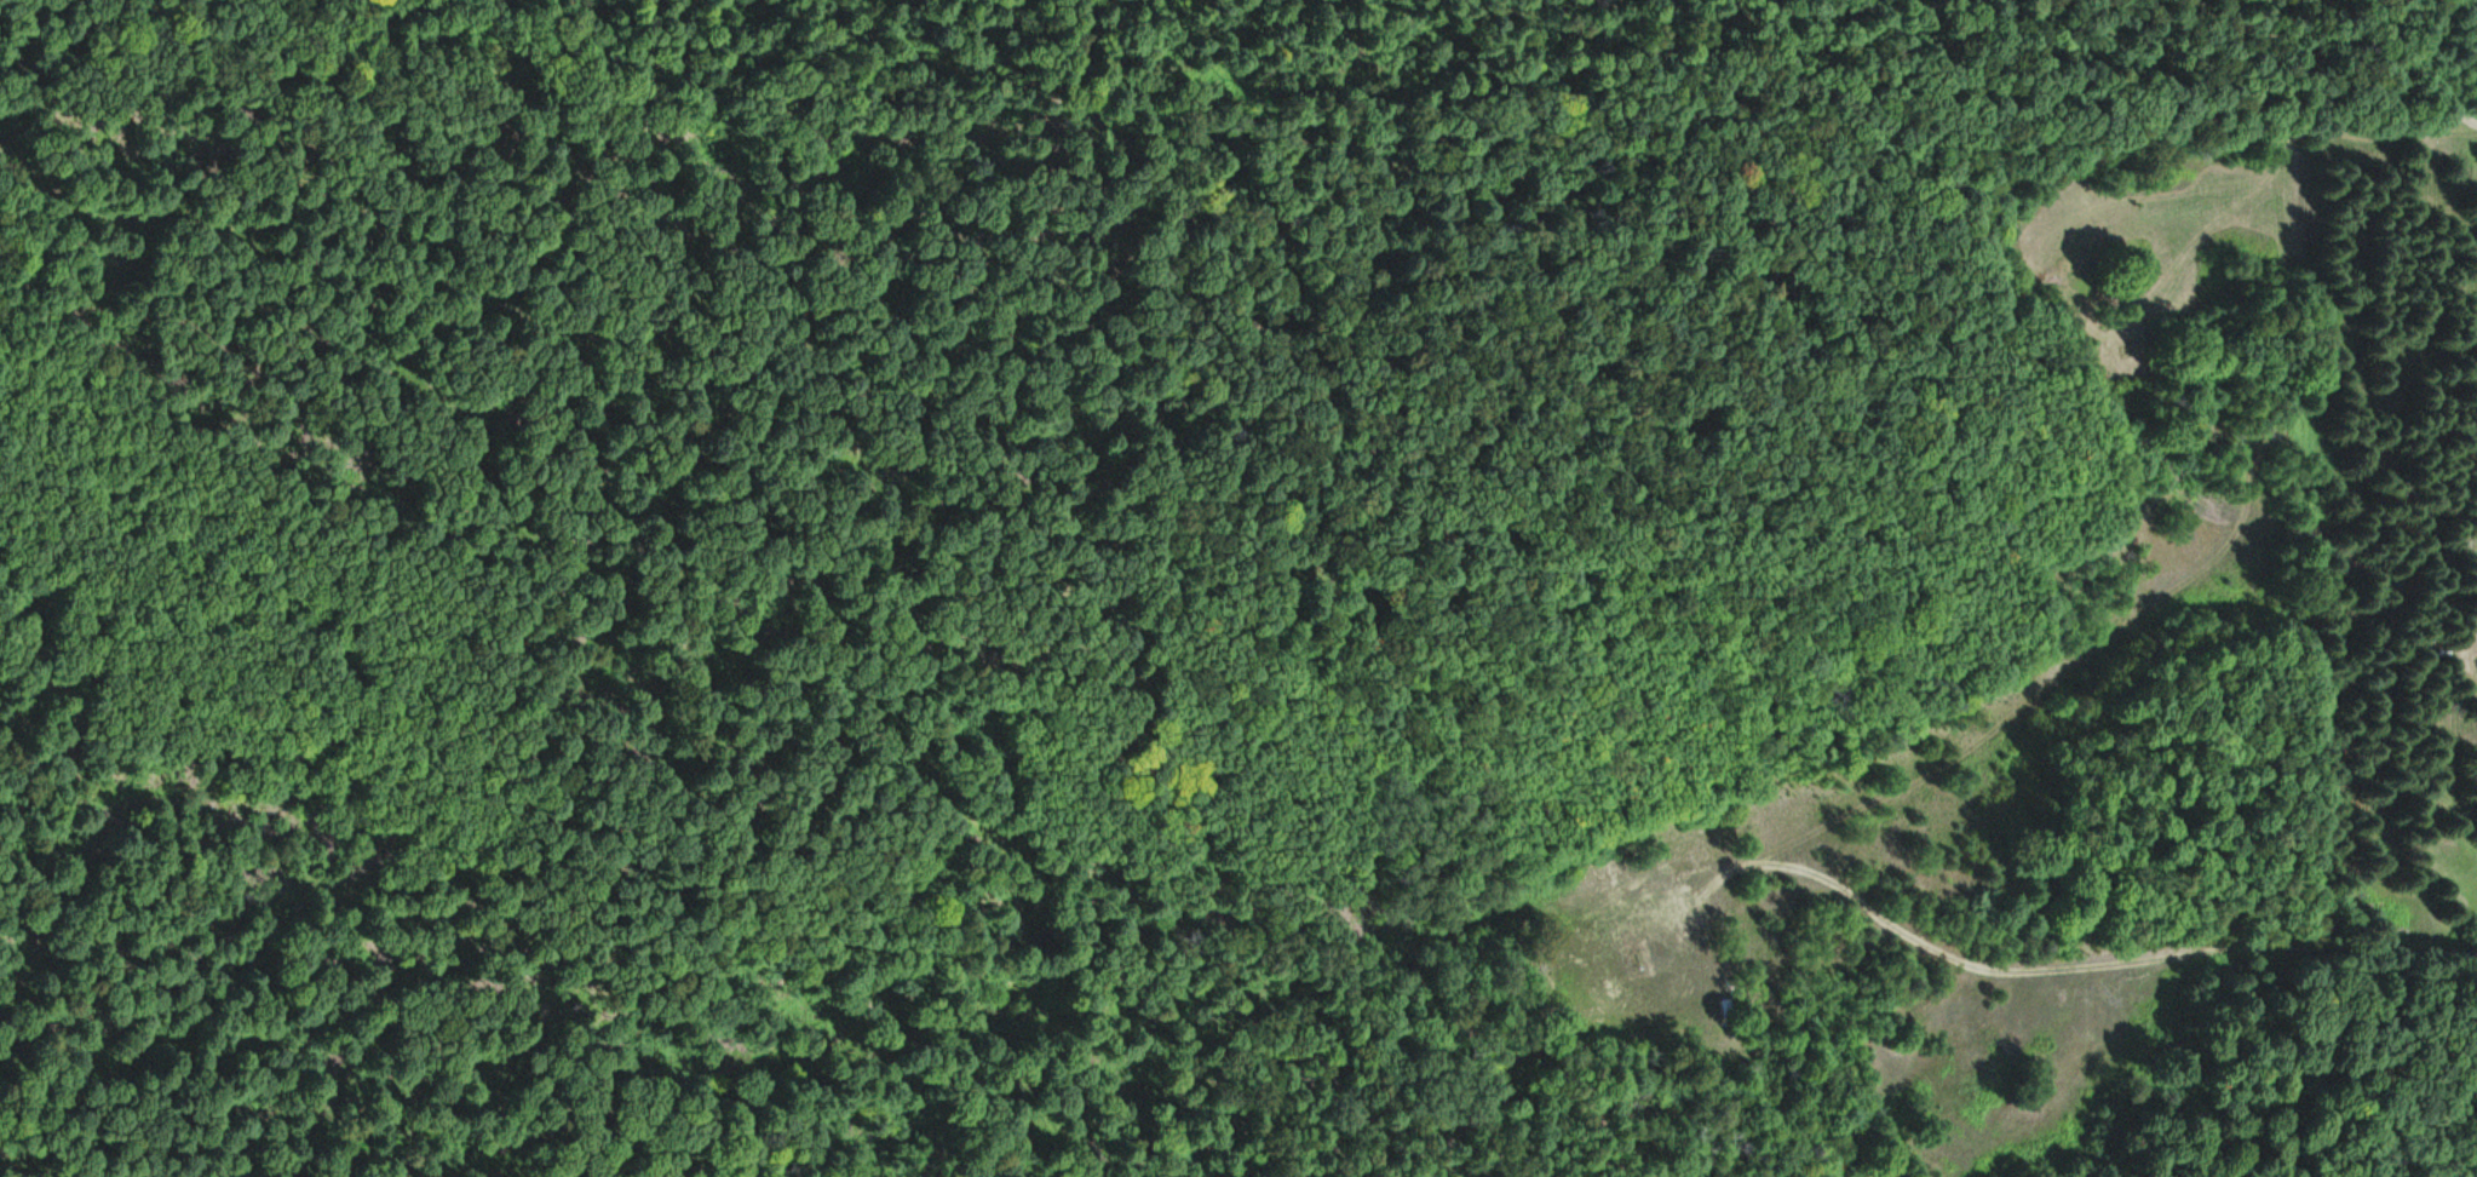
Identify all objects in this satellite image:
road: (2420, 65)

